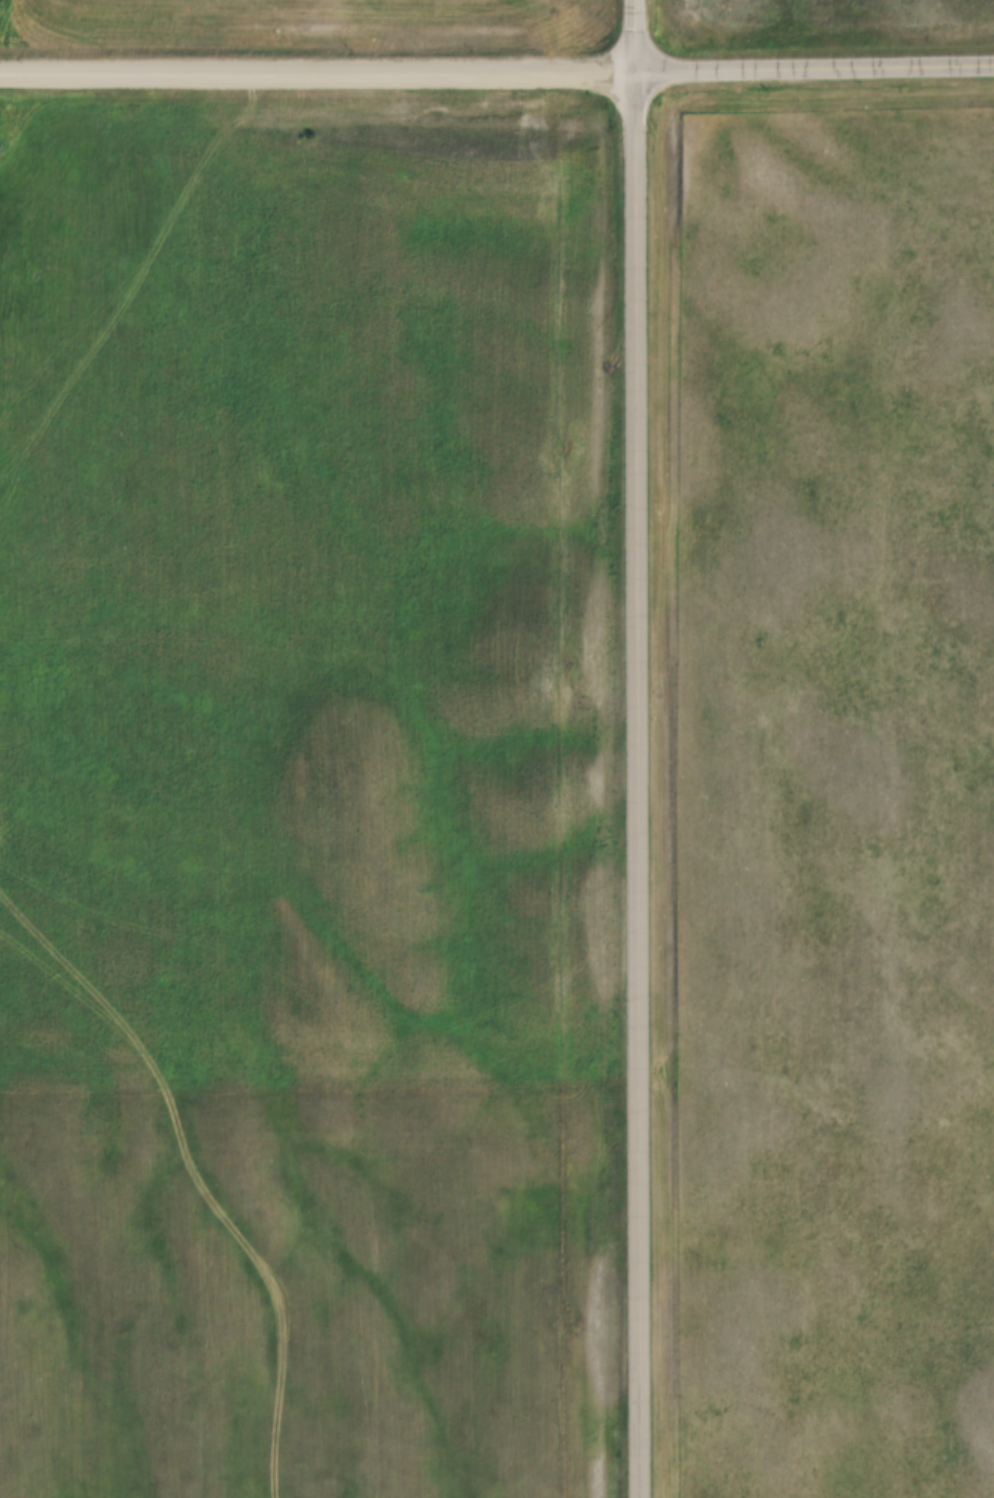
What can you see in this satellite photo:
road: (635, 33)
road: (814, 65)
road: (317, 70)
road: (637, 782)

